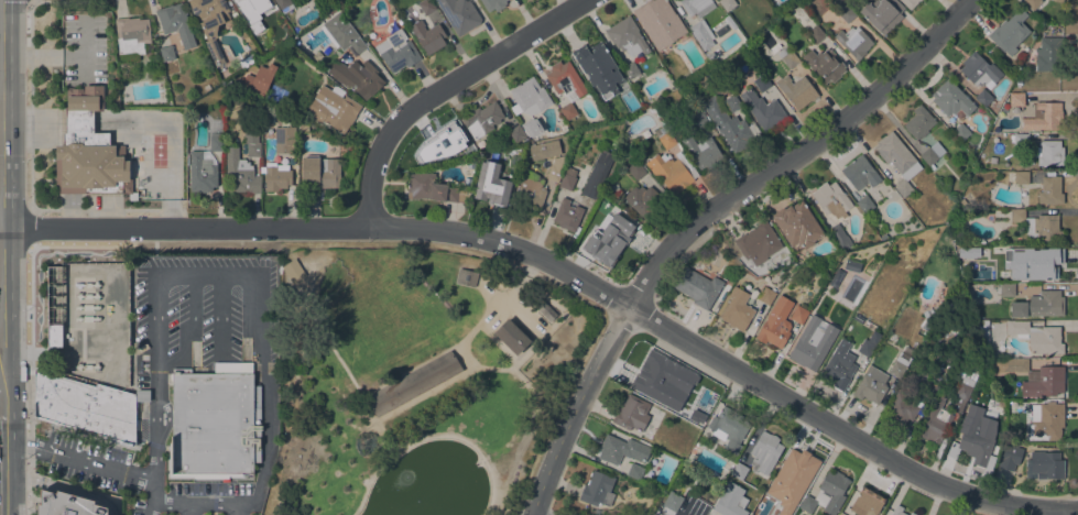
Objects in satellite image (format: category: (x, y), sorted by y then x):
building: (240, 0)
building: (1056, 1)
building: (910, 3)
building: (1032, 3)
building: (263, 4)
building: (283, 4)
building: (493, 4)
building: (727, 4)
building: (426, 6)
building: (696, 7)
building: (335, 8)
building: (327, 10)
building: (843, 10)
building: (879, 13)
building: (209, 14)
building: (459, 14)
building: (247, 15)
building: (658, 22)
building: (729, 22)
building: (176, 23)
building: (422, 30)
building: (720, 31)
building: (1010, 32)
building: (344, 33)
building: (701, 34)
building: (816, 34)
building: (131, 35)
building: (627, 36)
building: (853, 42)
building: (396, 51)
building: (166, 53)
building: (1048, 54)
building: (216, 55)
building: (595, 56)
building: (710, 56)
building: (787, 57)
building: (247, 61)
building: (824, 65)
building: (630, 70)
building: (980, 70)
building: (356, 77)
building: (258, 78)
building: (565, 79)
building: (762, 83)
road: (440, 87)
building: (597, 88)
building: (796, 90)
building: (529, 98)
building: (983, 98)
building: (1016, 99)
building: (951, 100)
building: (732, 103)
road: (29, 105)
building: (333, 109)
building: (763, 110)
building: (568, 111)
building: (1044, 116)
building: (698, 119)
building: (482, 120)
building: (918, 122)
building: (729, 124)
building: (303, 127)
building: (531, 127)
building: (603, 129)
building: (960, 132)
building: (516, 133)
building: (664, 136)
building: (1019, 139)
building: (251, 140)
building: (284, 140)
building: (216, 142)
building: (446, 143)
building: (84, 146)
building: (544, 150)
building: (700, 151)
building: (1048, 152)
building: (932, 154)
building: (897, 160)
building: (556, 167)
building: (202, 171)
building: (635, 171)
building: (120, 172)
building: (672, 172)
building: (319, 173)
building: (860, 173)
building: (240, 174)
building: (597, 174)
building: (568, 176)
building: (276, 177)
building: (1021, 178)
building: (491, 184)
building: (612, 187)
building: (433, 188)
building: (1049, 190)
building: (530, 191)
building: (642, 199)
building: (830, 199)
building: (864, 204)
building: (567, 215)
road: (700, 217)
building: (796, 224)
building: (1038, 226)
road: (30, 228)
building: (838, 237)
building: (609, 238)
building: (758, 243)
road: (331, 244)
road: (83, 246)
building: (1015, 253)
building: (1047, 264)
building: (852, 265)
building: (293, 271)
road: (564, 272)
building: (466, 277)
building: (697, 287)
road: (252, 288)
building: (1006, 289)
building: (766, 295)
road: (0, 305)
building: (1039, 305)
building: (737, 309)
building: (547, 313)
road: (219, 314)
building: (798, 315)
power substation: (90, 321)
building: (775, 324)
road: (184, 329)
building: (54, 335)
building: (511, 337)
building: (1037, 337)
building: (813, 342)
building: (867, 348)
building: (839, 365)
building: (896, 369)
building: (653, 376)
building: (1032, 376)
road: (28, 380)
park: (415, 381)
building: (682, 382)
building: (412, 383)
road: (435, 386)
building: (872, 386)
building: (961, 394)
building: (143, 395)
road: (1, 397)
building: (901, 408)
building: (84, 409)
building: (632, 414)
building: (935, 421)
building: (1046, 421)
building: (211, 426)
building: (729, 428)
road: (0, 438)
road: (13, 443)
building: (974, 445)
building: (621, 450)
building: (764, 452)
building: (1010, 457)
building: (1046, 464)
road: (107, 467)
building: (739, 471)
building: (634, 472)
building: (792, 479)
building: (597, 490)
building: (827, 494)
building: (672, 501)
building: (730, 501)
building: (867, 502)
building: (67, 505)
road: (190, 508)
road: (237, 509)
road: (536, 513)
building: (896, 513)
building: (840, 514)
building: (911, 514)

